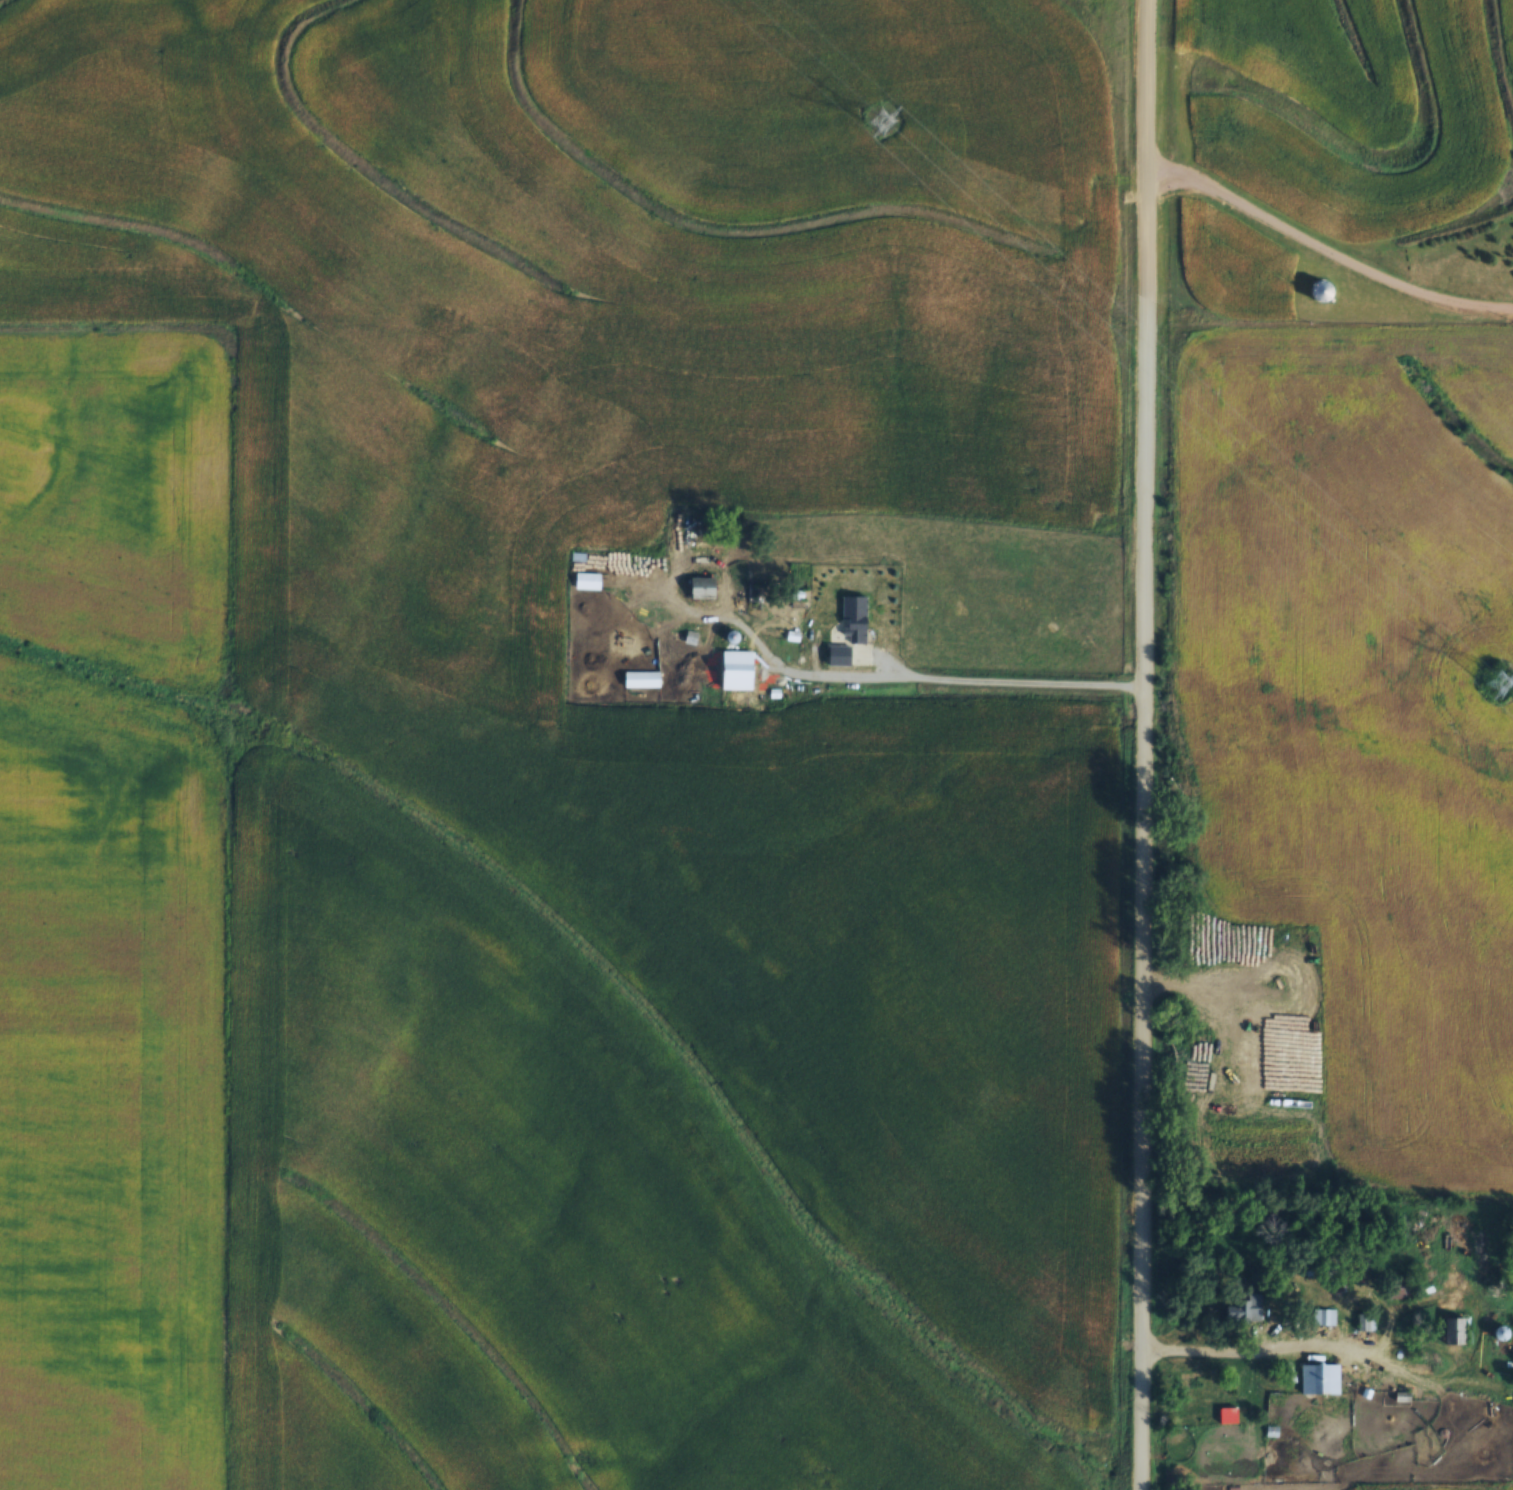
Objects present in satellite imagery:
power tower: (888, 126)
road: (1326, 247)
building: (587, 578)
building: (703, 585)
building: (854, 616)
building: (737, 667)
building: (641, 676)
road: (953, 683)
road: (1143, 744)
building: (1400, 1283)
building: (1243, 1305)
building: (1324, 1312)
building: (1365, 1317)
road: (1305, 1345)
building: (1319, 1374)

